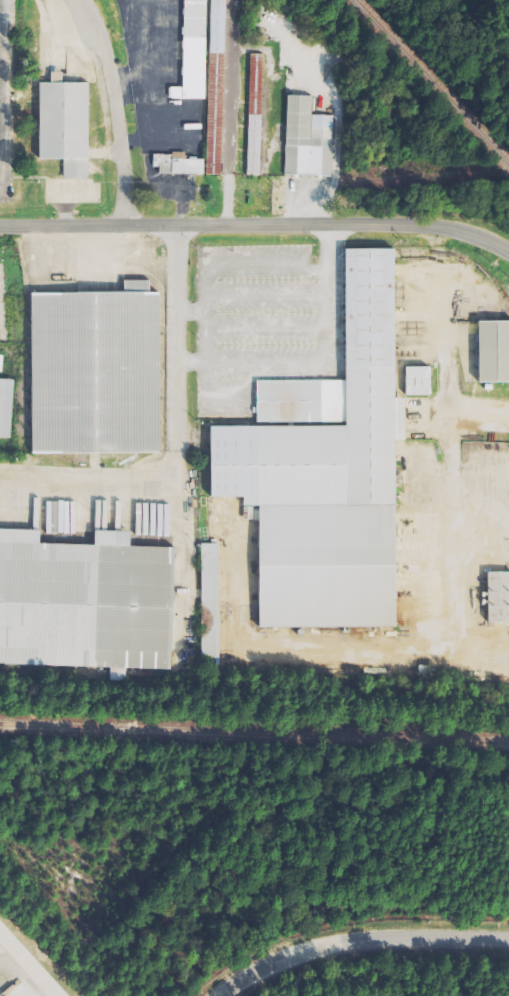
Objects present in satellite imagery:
building: (218, 26)
building: (195, 50)
railway: (429, 84)
building: (176, 93)
road: (119, 109)
building: (255, 115)
building: (65, 125)
building: (214, 136)
building: (307, 140)
building: (178, 165)
road: (256, 224)
building: (486, 351)
building: (1, 363)
building: (97, 371)
building: (418, 381)
building: (6, 407)
building: (327, 471)
building: (491, 597)
building: (85, 602)
building: (210, 603)
railway: (254, 734)

